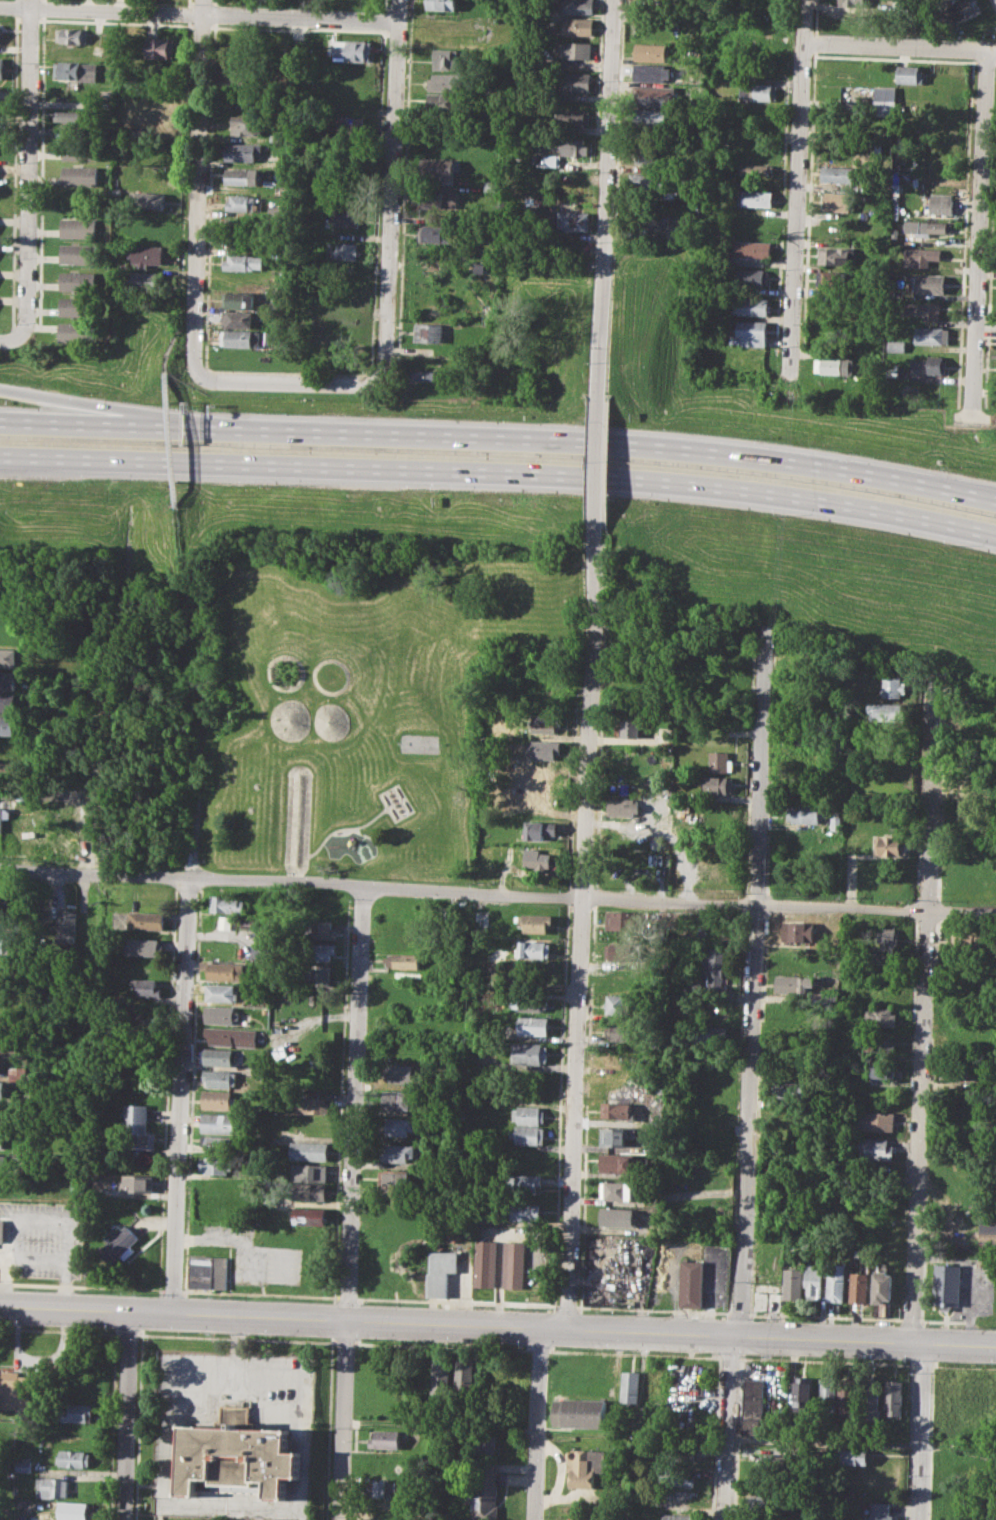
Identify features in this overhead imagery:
building: (854, 3)
building: (441, 4)
building: (580, 6)
building: (964, 9)
road: (198, 13)
building: (577, 27)
building: (0, 29)
building: (72, 35)
road: (896, 46)
building: (160, 47)
building: (353, 50)
building: (578, 50)
road: (992, 50)
building: (651, 52)
building: (450, 58)
building: (2, 67)
building: (78, 70)
building: (652, 73)
building: (911, 74)
building: (446, 81)
building: (575, 81)
building: (764, 92)
building: (655, 96)
building: (944, 100)
building: (445, 103)
building: (885, 108)
building: (69, 115)
building: (573, 117)
building: (653, 119)
building: (161, 120)
building: (248, 125)
building: (353, 127)
building: (939, 127)
building: (279, 138)
building: (572, 146)
building: (81, 151)
building: (243, 151)
building: (653, 154)
building: (551, 160)
building: (441, 168)
road: (28, 169)
building: (755, 169)
building: (838, 173)
building: (80, 174)
building: (243, 176)
building: (650, 181)
building: (491, 185)
road: (198, 188)
road: (798, 193)
road: (390, 194)
building: (756, 196)
building: (150, 199)
building: (439, 199)
road: (607, 199)
building: (836, 201)
building: (243, 203)
building: (942, 203)
building: (895, 207)
road: (182, 217)
building: (347, 217)
building: (651, 218)
building: (571, 221)
building: (78, 227)
building: (931, 227)
building: (147, 229)
building: (438, 232)
road: (979, 235)
building: (342, 251)
building: (748, 252)
building: (78, 253)
building: (147, 255)
building: (836, 255)
building: (927, 255)
building: (244, 262)
road: (182, 270)
building: (753, 277)
building: (831, 278)
building: (145, 279)
building: (78, 280)
building: (929, 283)
building: (238, 299)
building: (78, 306)
building: (752, 306)
building: (920, 309)
building: (238, 319)
building: (78, 330)
building: (428, 333)
building: (753, 333)
building: (932, 335)
building: (240, 338)
road: (10, 339)
building: (896, 345)
road: (169, 346)
building: (834, 365)
building: (930, 365)
building: (893, 369)
building: (425, 375)
road: (285, 381)
road: (63, 403)
road: (500, 438)
road: (172, 443)
road: (598, 467)
road: (499, 473)
building: (9, 633)
road: (195, 644)
building: (9, 657)
building: (8, 680)
building: (895, 687)
building: (548, 698)
park: (362, 700)
building: (8, 702)
building: (888, 713)
building: (974, 716)
building: (546, 723)
building: (8, 724)
building: (633, 727)
building: (803, 734)
park: (419, 743)
building: (545, 749)
building: (722, 761)
building: (9, 771)
building: (720, 784)
building: (7, 805)
building: (624, 807)
building: (807, 813)
building: (968, 827)
building: (539, 830)
building: (890, 846)
building: (970, 847)
building: (536, 859)
road: (497, 893)
building: (8, 896)
building: (226, 904)
building: (480, 918)
building: (5, 919)
building: (145, 920)
building: (623, 920)
building: (225, 922)
building: (533, 922)
building: (248, 923)
building: (66, 925)
building: (90, 925)
building: (320, 929)
road: (582, 932)
building: (799, 932)
building: (882, 935)
building: (404, 942)
building: (6, 945)
building: (142, 946)
building: (534, 949)
building: (321, 951)
building: (622, 951)
building: (260, 954)
building: (403, 960)
building: (711, 969)
building: (225, 970)
building: (316, 976)
building: (796, 984)
building: (141, 986)
building: (880, 987)
building: (221, 992)
building: (3, 994)
building: (530, 1002)
building: (622, 1003)
road: (752, 1006)
building: (794, 1012)
building: (222, 1014)
building: (880, 1016)
road: (923, 1017)
building: (534, 1025)
building: (625, 1031)
building: (714, 1033)
building: (233, 1035)
building: (1, 1040)
building: (878, 1042)
road: (185, 1043)
building: (529, 1052)
building: (625, 1055)
building: (219, 1057)
building: (0, 1062)
building: (878, 1070)
building: (954, 1070)
building: (18, 1073)
building: (404, 1074)
building: (221, 1078)
building: (2, 1087)
building: (218, 1099)
building: (399, 1099)
building: (313, 1105)
building: (618, 1109)
building: (2, 1111)
building: (529, 1114)
building: (878, 1121)
building: (220, 1123)
building: (399, 1126)
building: (138, 1128)
building: (528, 1135)
building: (615, 1137)
building: (2, 1139)
building: (220, 1144)
building: (875, 1149)
building: (309, 1151)
building: (397, 1152)
building: (3, 1161)
building: (616, 1163)
building: (218, 1164)
building: (309, 1172)
building: (394, 1179)
building: (525, 1182)
building: (140, 1183)
building: (617, 1190)
building: (309, 1192)
road: (350, 1202)
building: (524, 1211)
building: (308, 1215)
building: (618, 1217)
road: (40, 1219)
building: (2, 1229)
building: (988, 1234)
parking lot: (44, 1238)
road: (246, 1242)
building: (121, 1244)
building: (857, 1254)
parking lot: (255, 1255)
road: (38, 1258)
building: (485, 1263)
road: (250, 1264)
building: (514, 1265)
building: (439, 1271)
building: (207, 1272)
road: (970, 1277)
building: (814, 1280)
building: (837, 1282)
building: (691, 1283)
building: (793, 1284)
building: (948, 1284)
building: (882, 1286)
building: (860, 1287)
building: (765, 1298)
road: (497, 1326)
road: (41, 1359)
building: (465, 1372)
building: (441, 1375)
building: (632, 1387)
building: (972, 1389)
building: (17, 1390)
building: (804, 1392)
building: (828, 1394)
building: (849, 1395)
building: (894, 1397)
building: (871, 1399)
building: (755, 1406)
building: (76, 1413)
building: (580, 1413)
road: (128, 1415)
road: (539, 1424)
road: (729, 1429)
road: (919, 1432)
building: (385, 1439)
road: (824, 1442)
building: (484, 1443)
building: (235, 1454)
building: (681, 1454)
building: (851, 1455)
building: (74, 1459)
building: (776, 1462)
building: (961, 1463)
building: (25, 1466)
building: (585, 1466)
road: (561, 1472)
building: (680, 1477)
building: (53, 1487)
building: (951, 1488)
building: (378, 1489)
building: (485, 1492)
building: (680, 1499)
building: (764, 1503)
building: (641, 1505)
building: (387, 1509)
building: (73, 1510)
building: (879, 1511)
building: (950, 1511)
building: (680, 1516)
building: (763, 1518)

